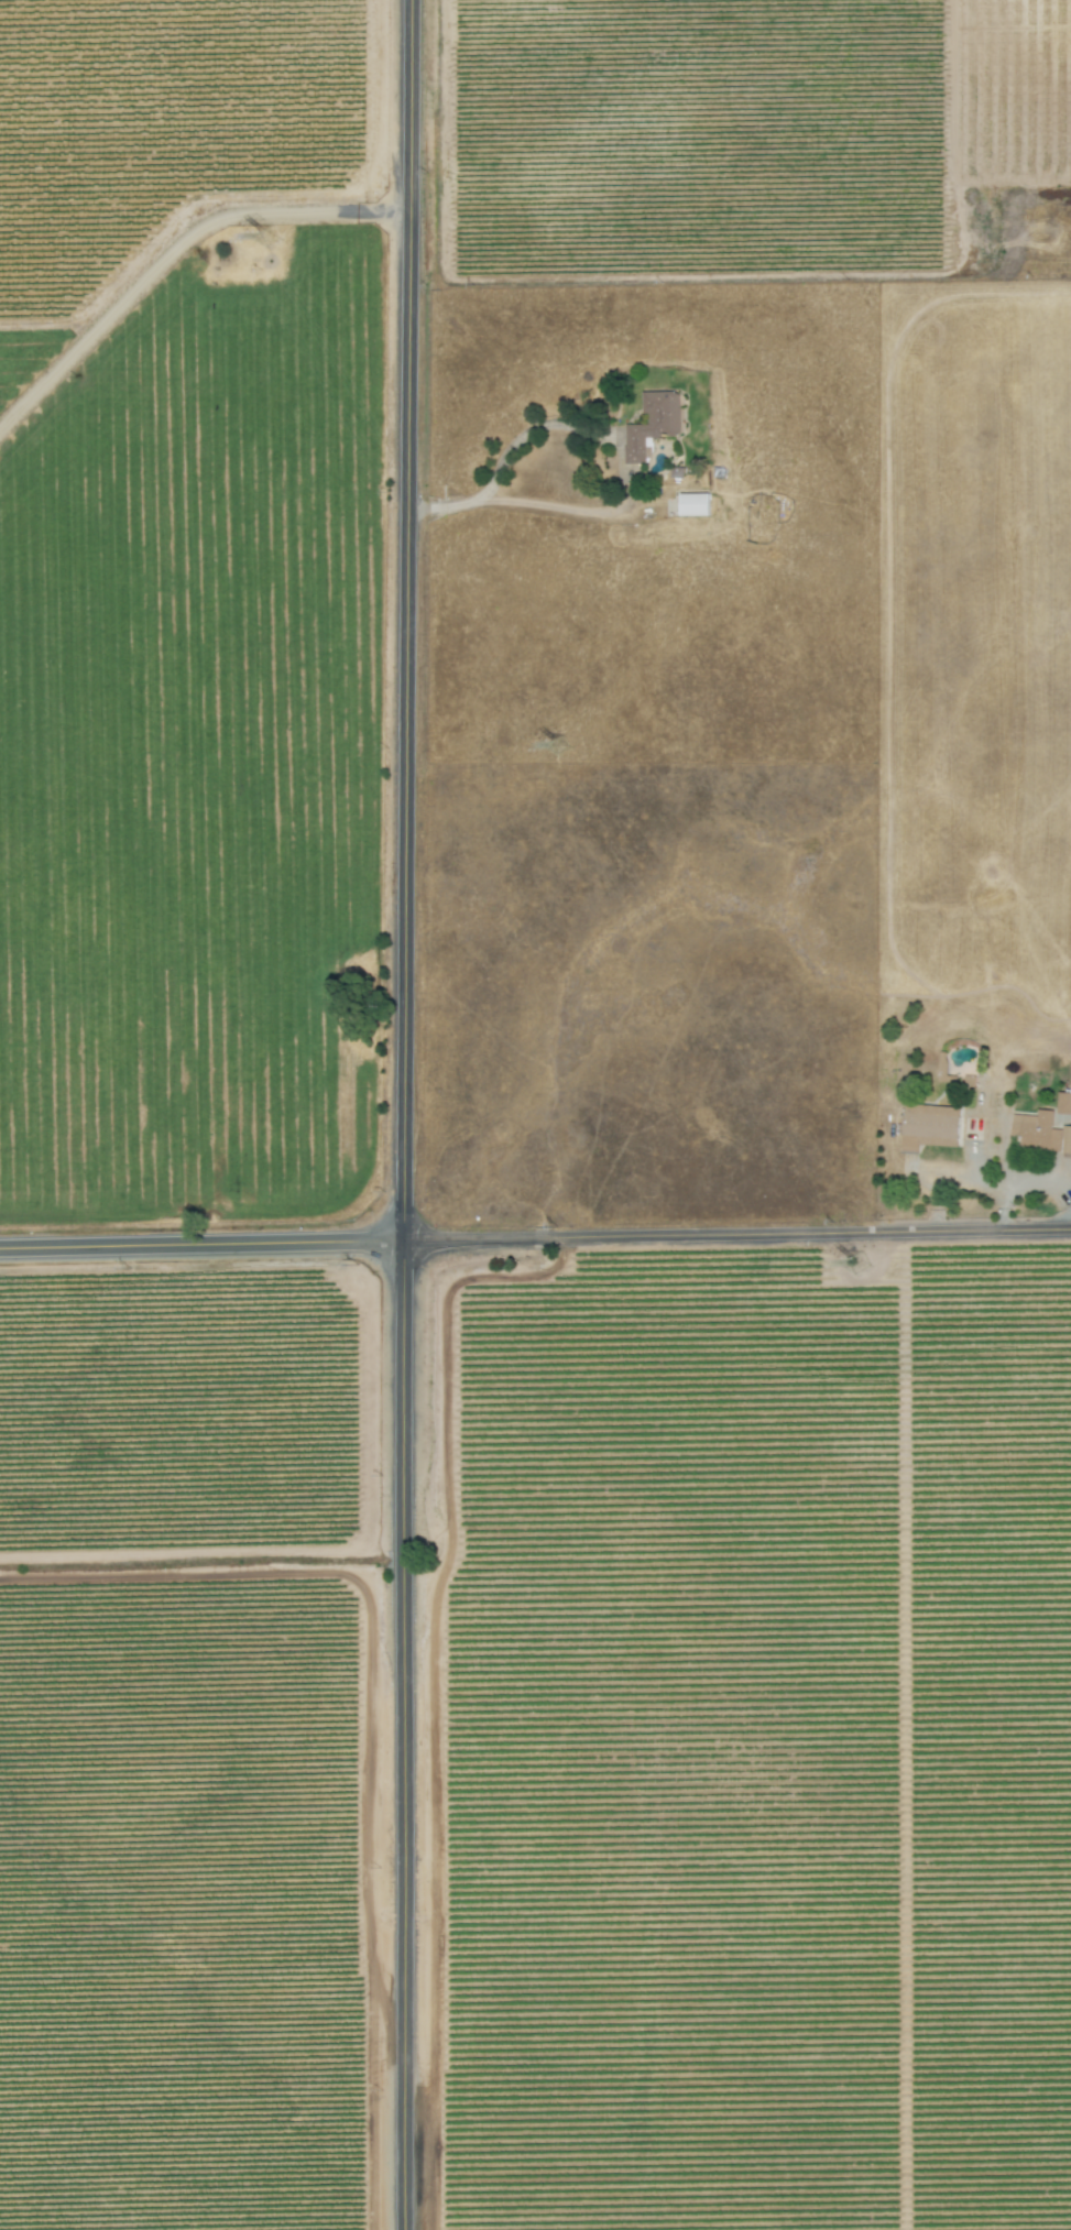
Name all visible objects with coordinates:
road: (948, 90)
road: (175, 247)
power tower: (270, 253)
building: (656, 423)
road: (619, 461)
road: (480, 495)
road: (513, 503)
building: (696, 504)
power tower: (550, 746)
road: (1002, 1094)
road: (409, 1114)
road: (981, 1179)
road: (1037, 1181)
road: (740, 1233)
road: (205, 1245)
power tower: (871, 1266)
road: (373, 1719)

